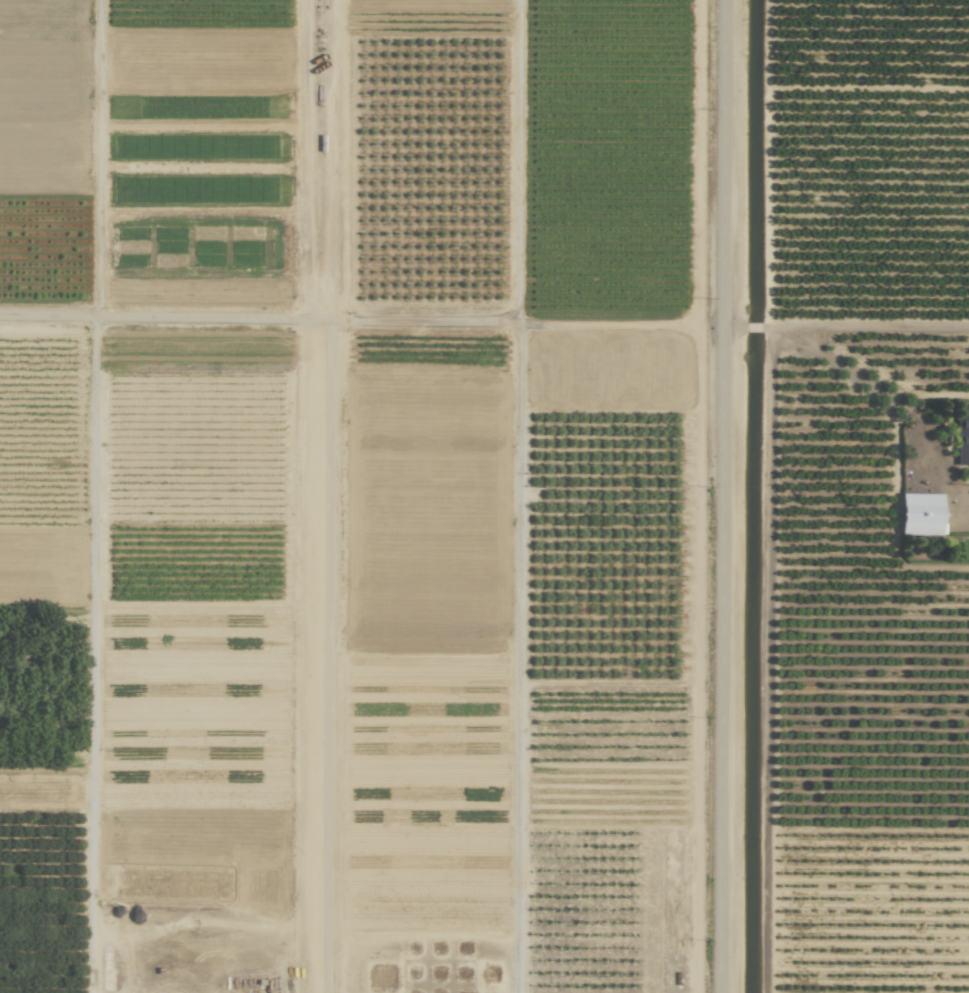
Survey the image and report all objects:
road: (362, 318)
road: (863, 325)
road: (734, 327)
road: (751, 327)
road: (903, 404)
building: (962, 434)
airport runway: (318, 496)
road: (724, 496)
building: (920, 514)
road: (92, 654)
road: (517, 659)

